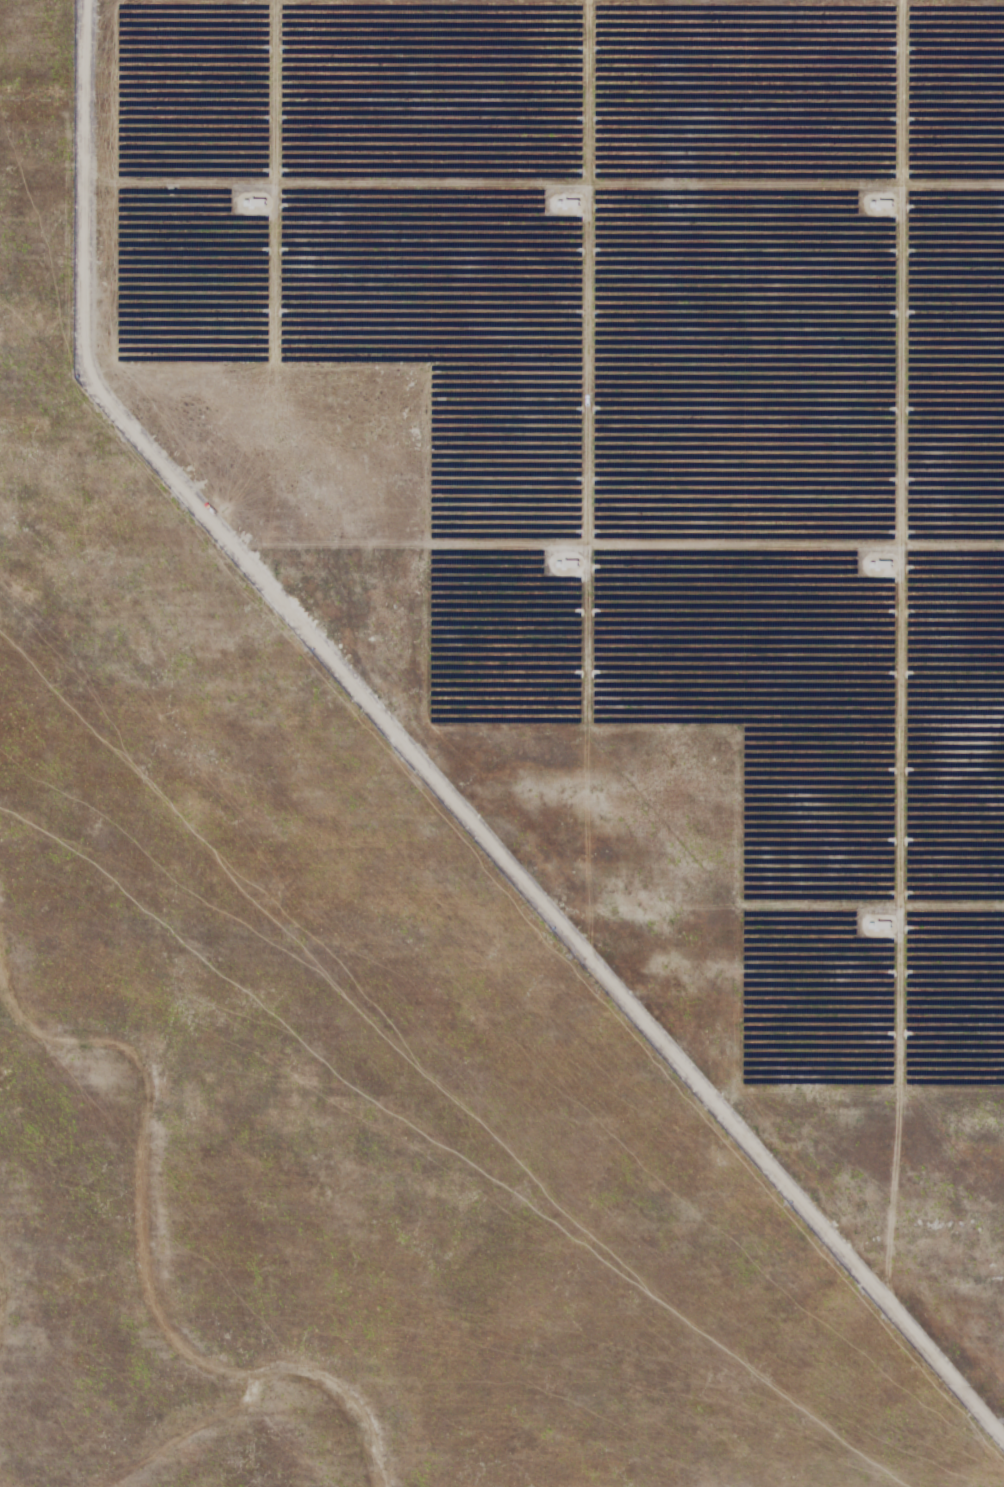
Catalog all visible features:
road: (502, 31)
solar farm: (502, 743)

